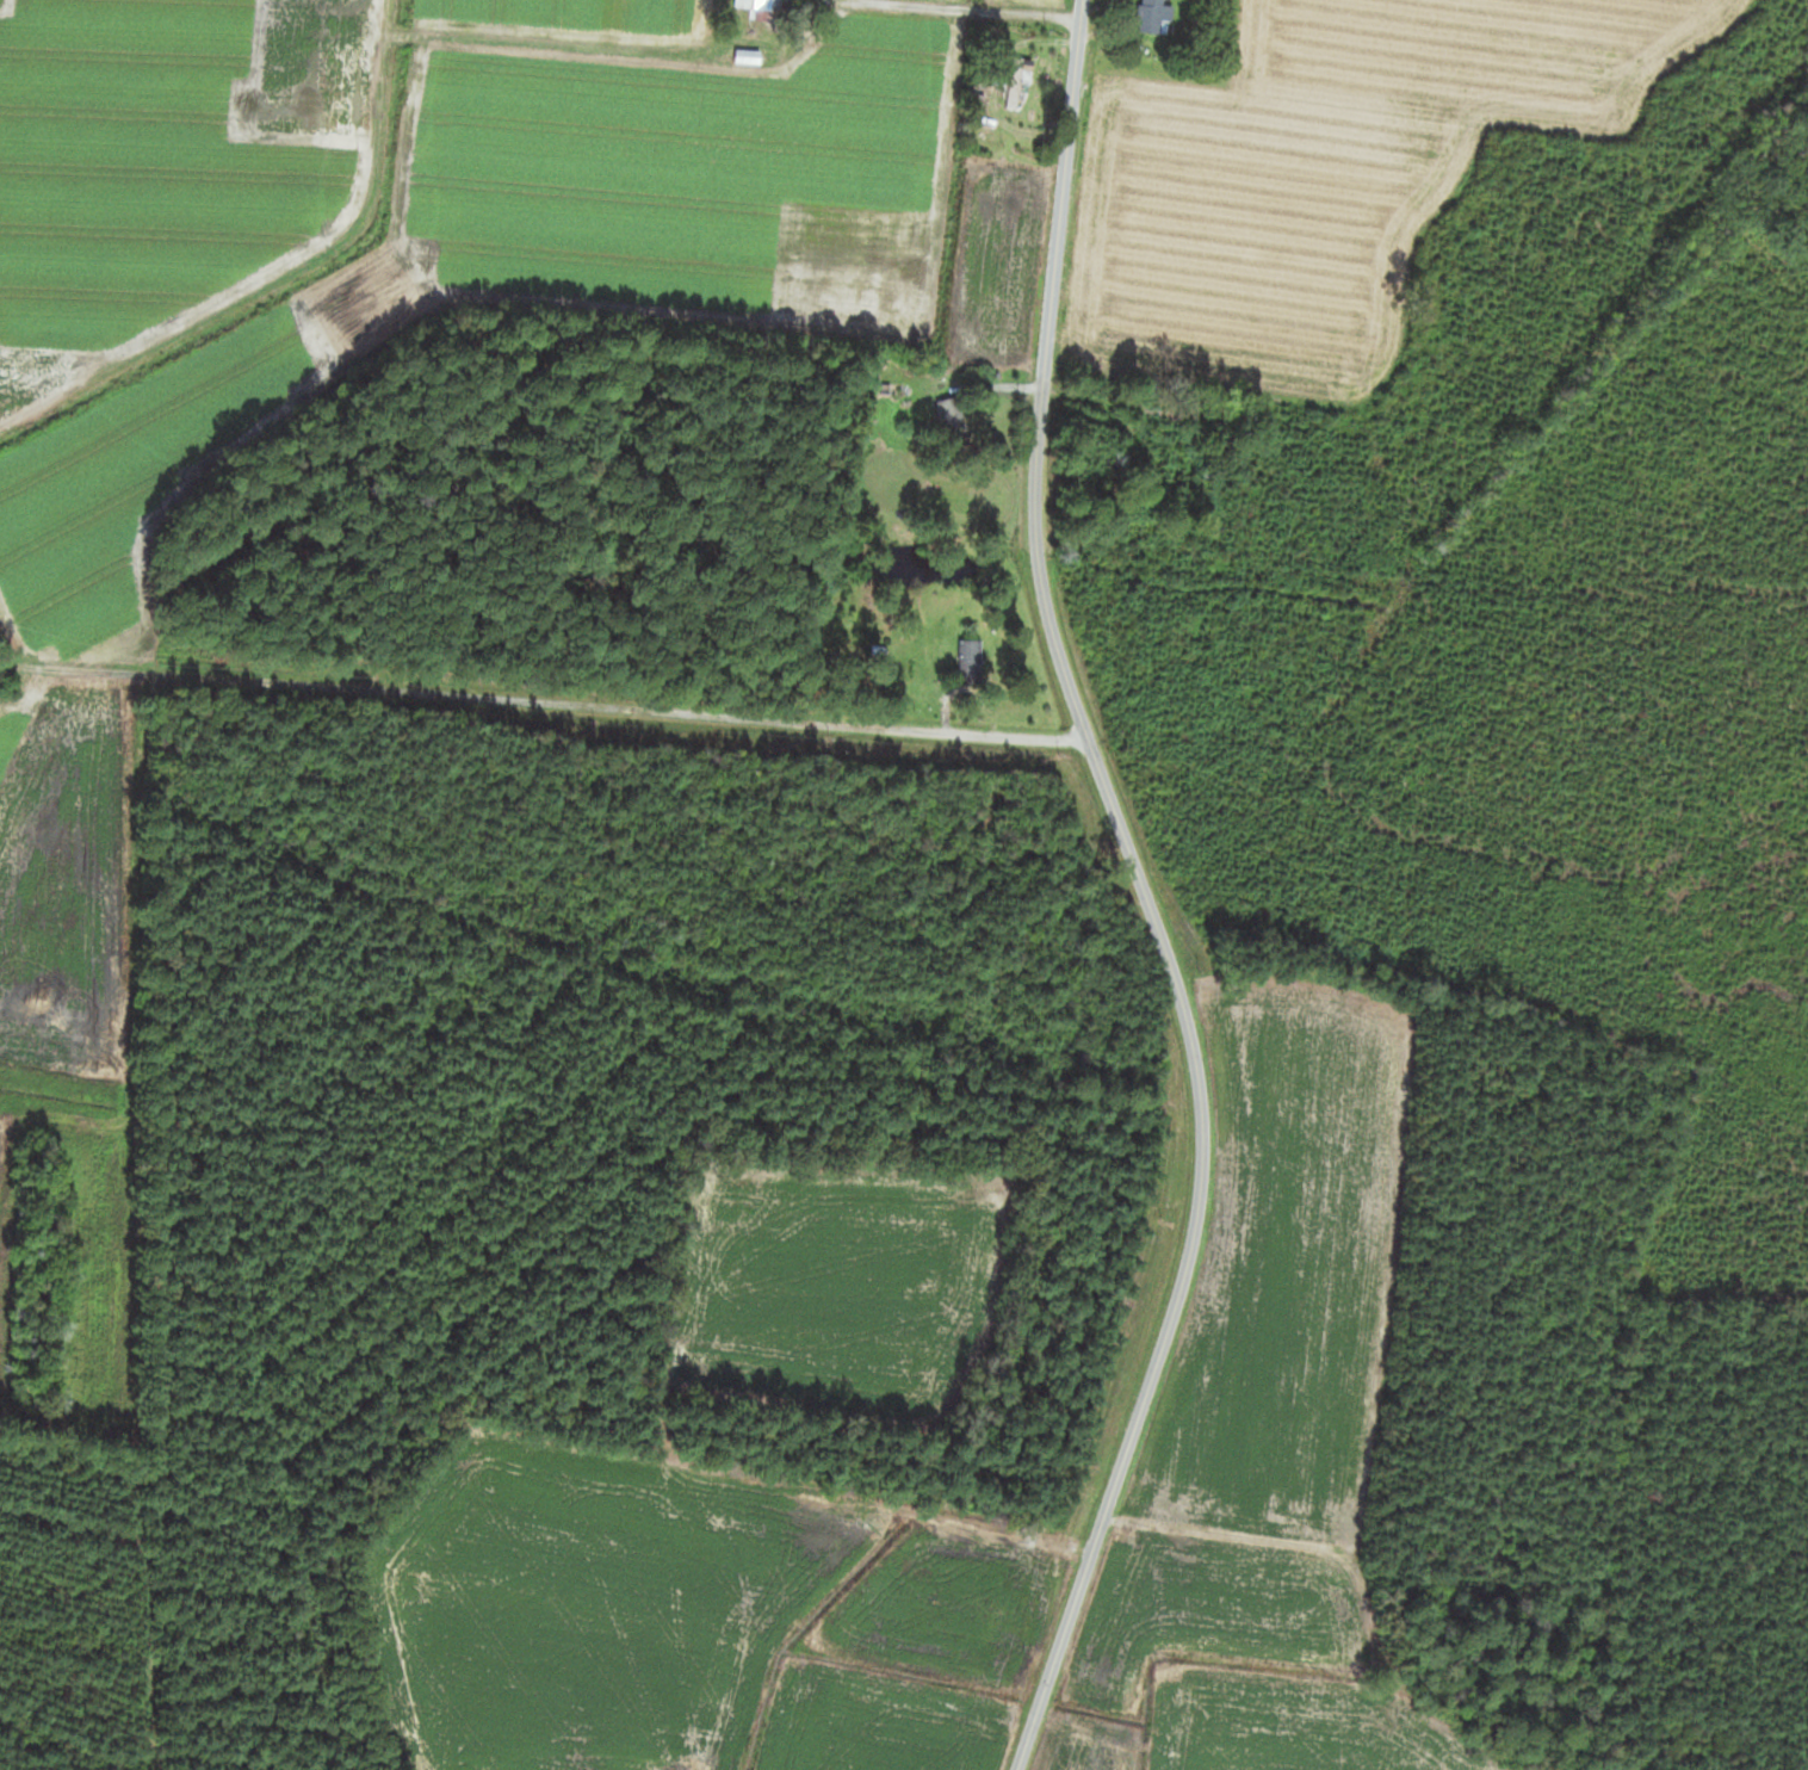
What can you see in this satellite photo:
building: (762, 10)
road: (953, 10)
building: (1152, 17)
building: (636, 50)
building: (749, 56)
road: (1069, 66)
building: (1017, 85)
building: (949, 419)
building: (1164, 460)
building: (971, 662)
road: (540, 681)
road: (1166, 955)

